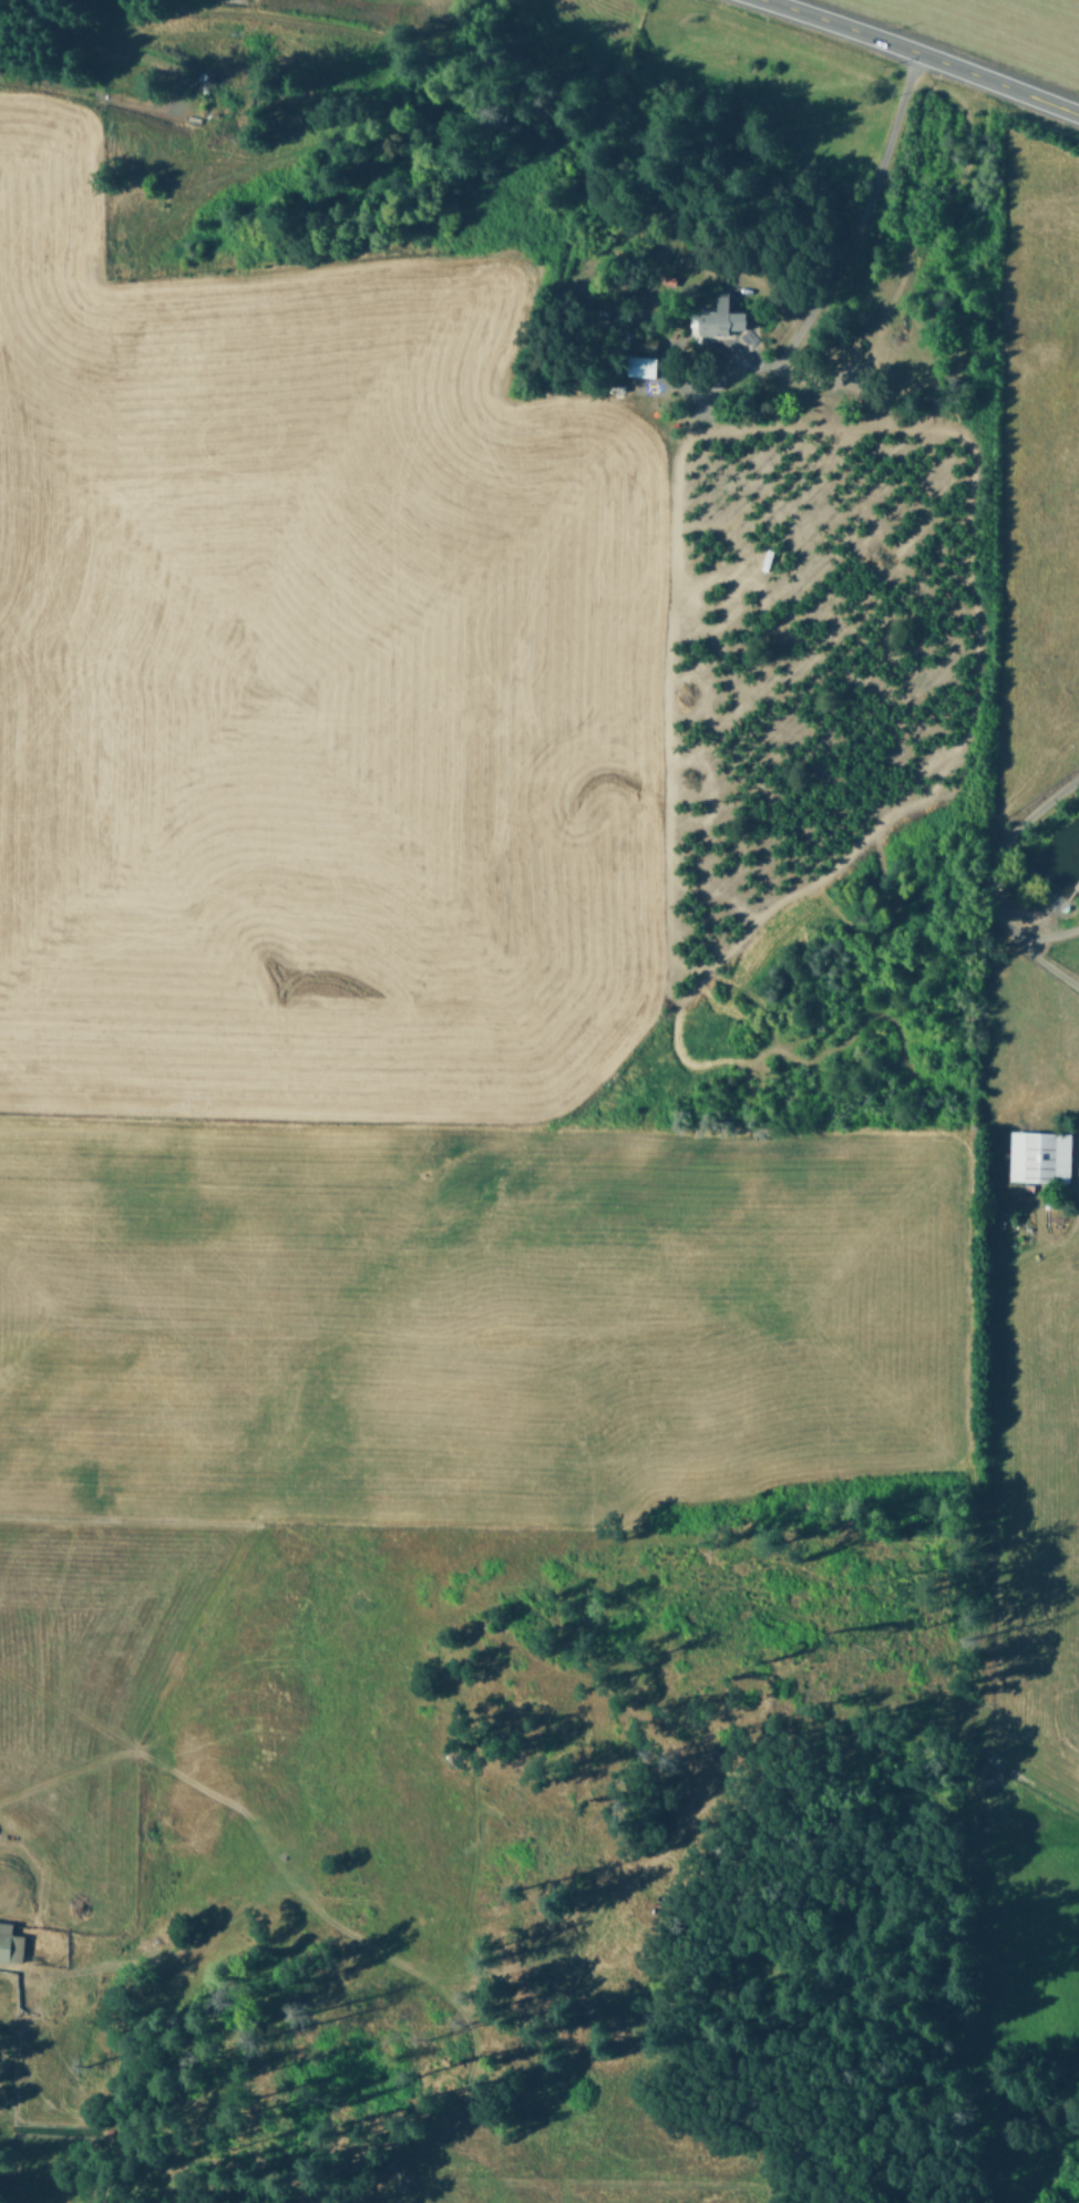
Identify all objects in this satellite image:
road: (922, 54)
road: (863, 208)
building: (730, 317)
road: (997, 887)
road: (1044, 934)
crop: (442, 1075)
building: (1039, 1155)
building: (12, 1943)

